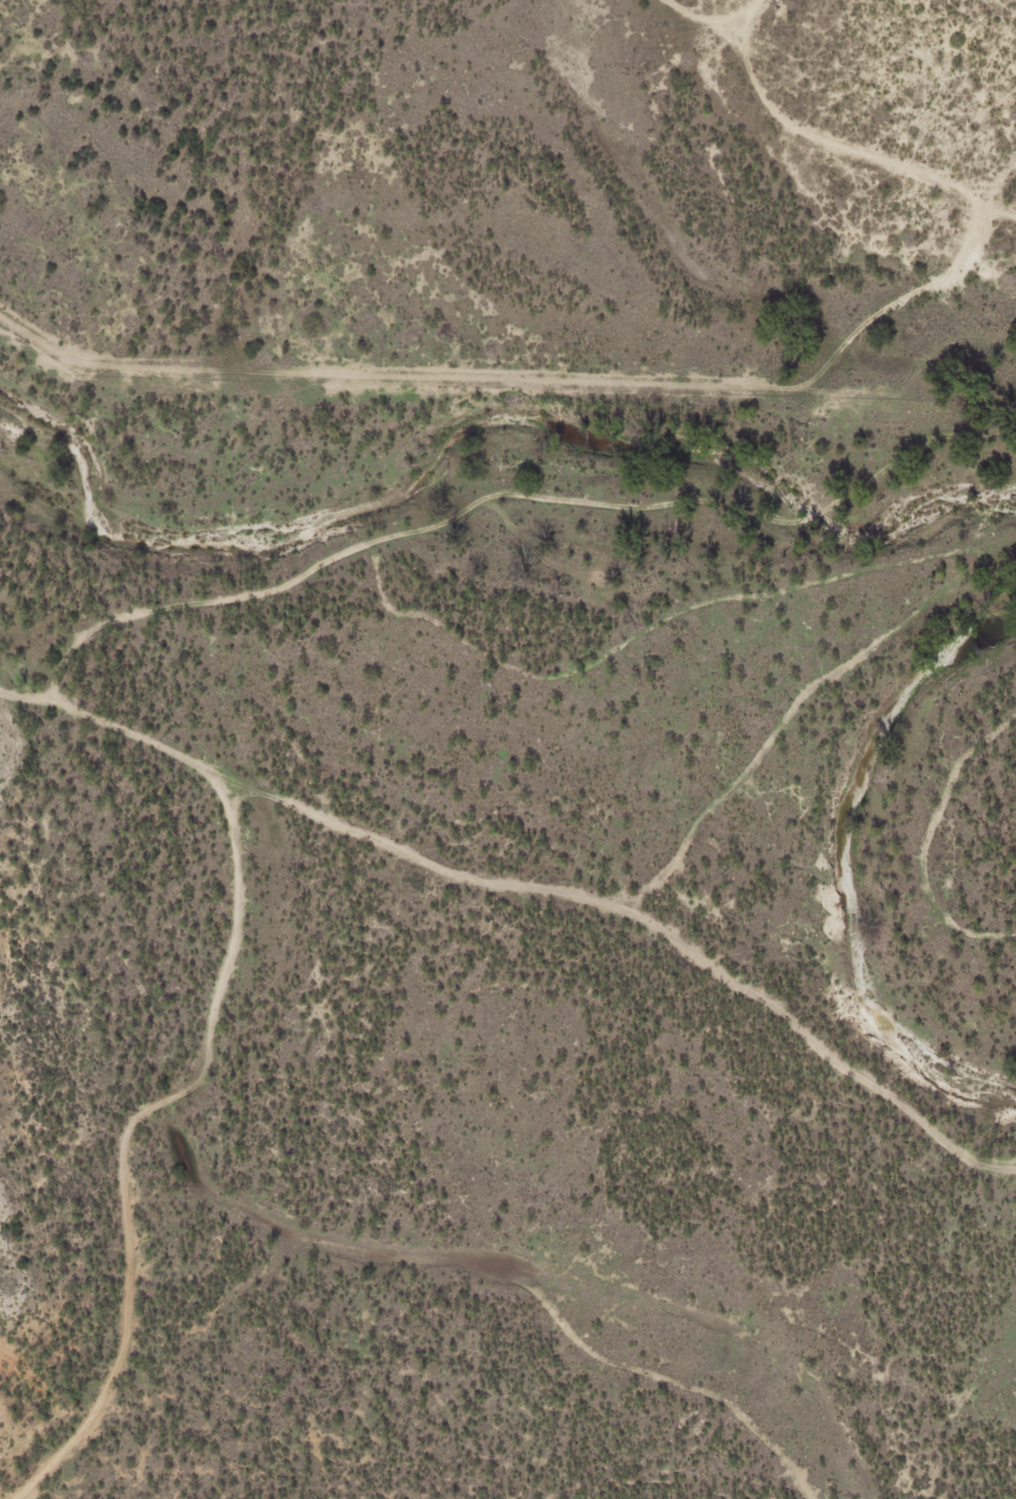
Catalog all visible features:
road: (776, 362)
road: (175, 366)
river: (466, 437)
road: (181, 755)
river: (859, 858)
road: (702, 967)
road: (132, 1128)

